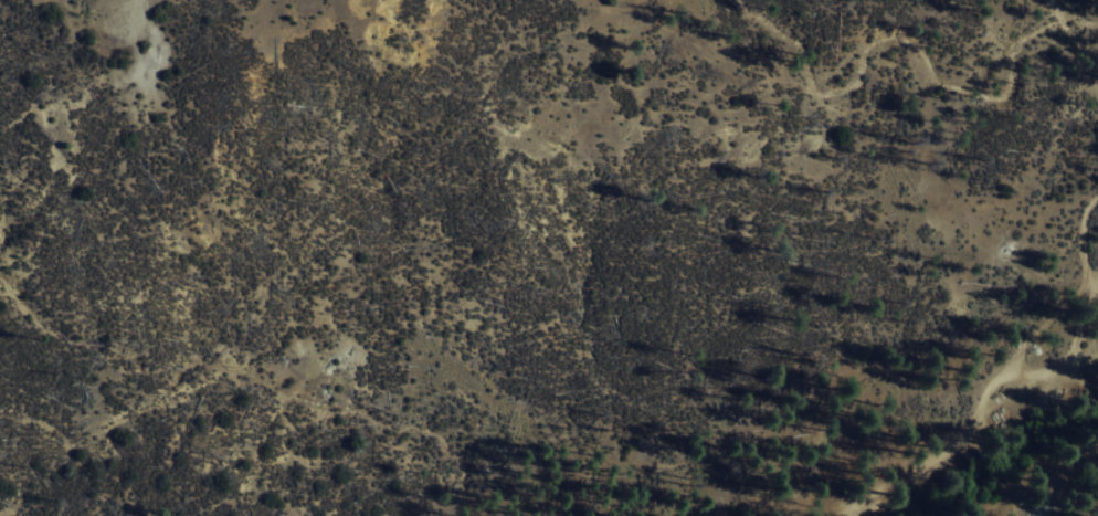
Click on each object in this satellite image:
road: (1057, 23)
road: (1096, 309)

